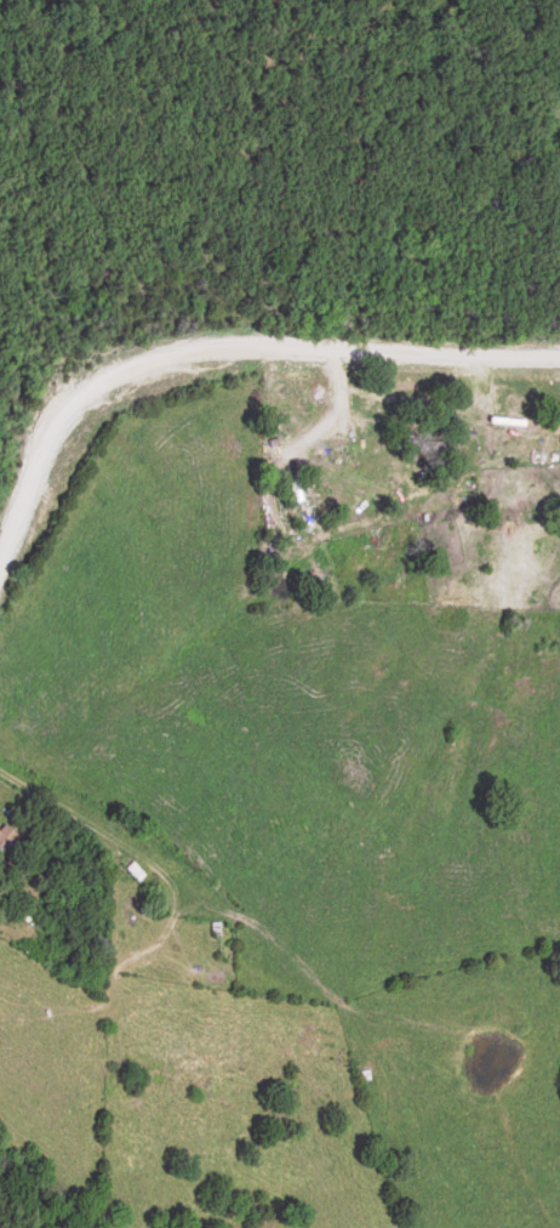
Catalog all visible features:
road: (372, 351)
road: (57, 439)
building: (7, 837)
road: (112, 857)

